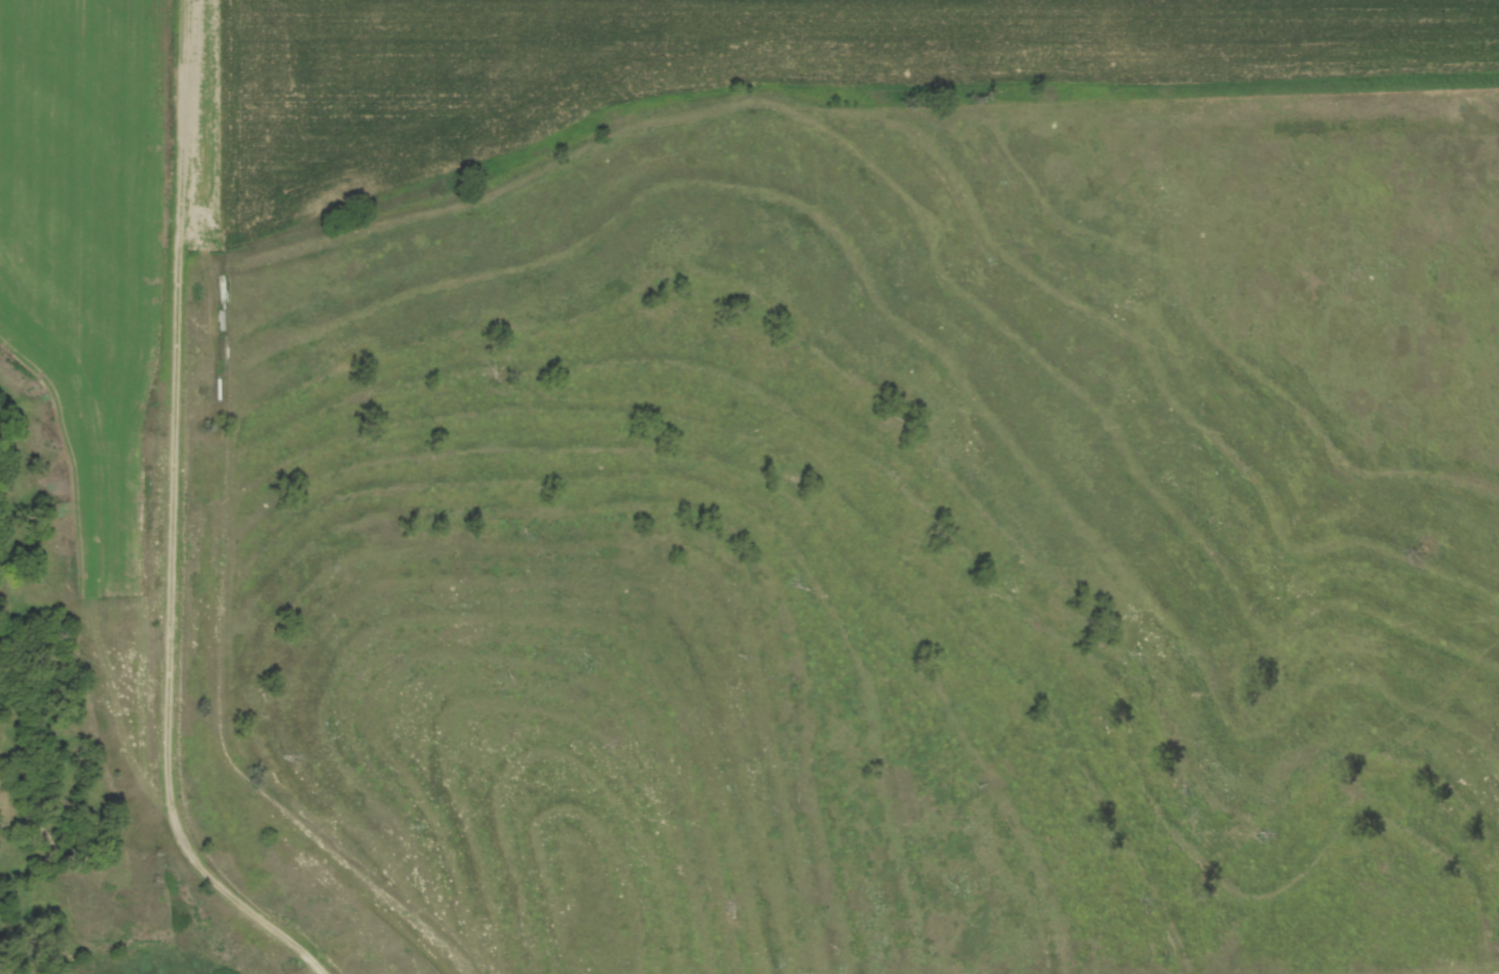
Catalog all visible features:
road: (175, 517)

